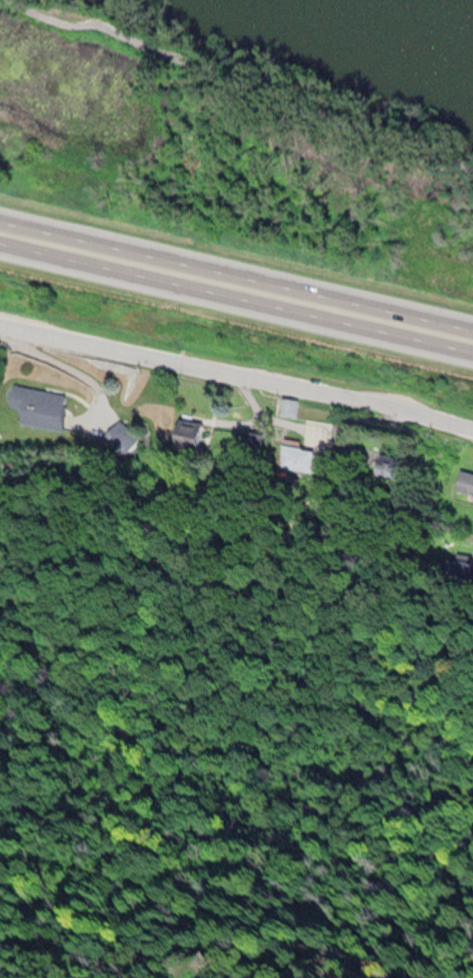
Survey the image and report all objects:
road: (244, 83)
park: (253, 126)
road: (236, 276)
road: (236, 297)
road: (236, 376)
building: (289, 404)
building: (39, 405)
building: (187, 429)
building: (298, 461)
building: (393, 466)
building: (464, 482)
building: (453, 567)

